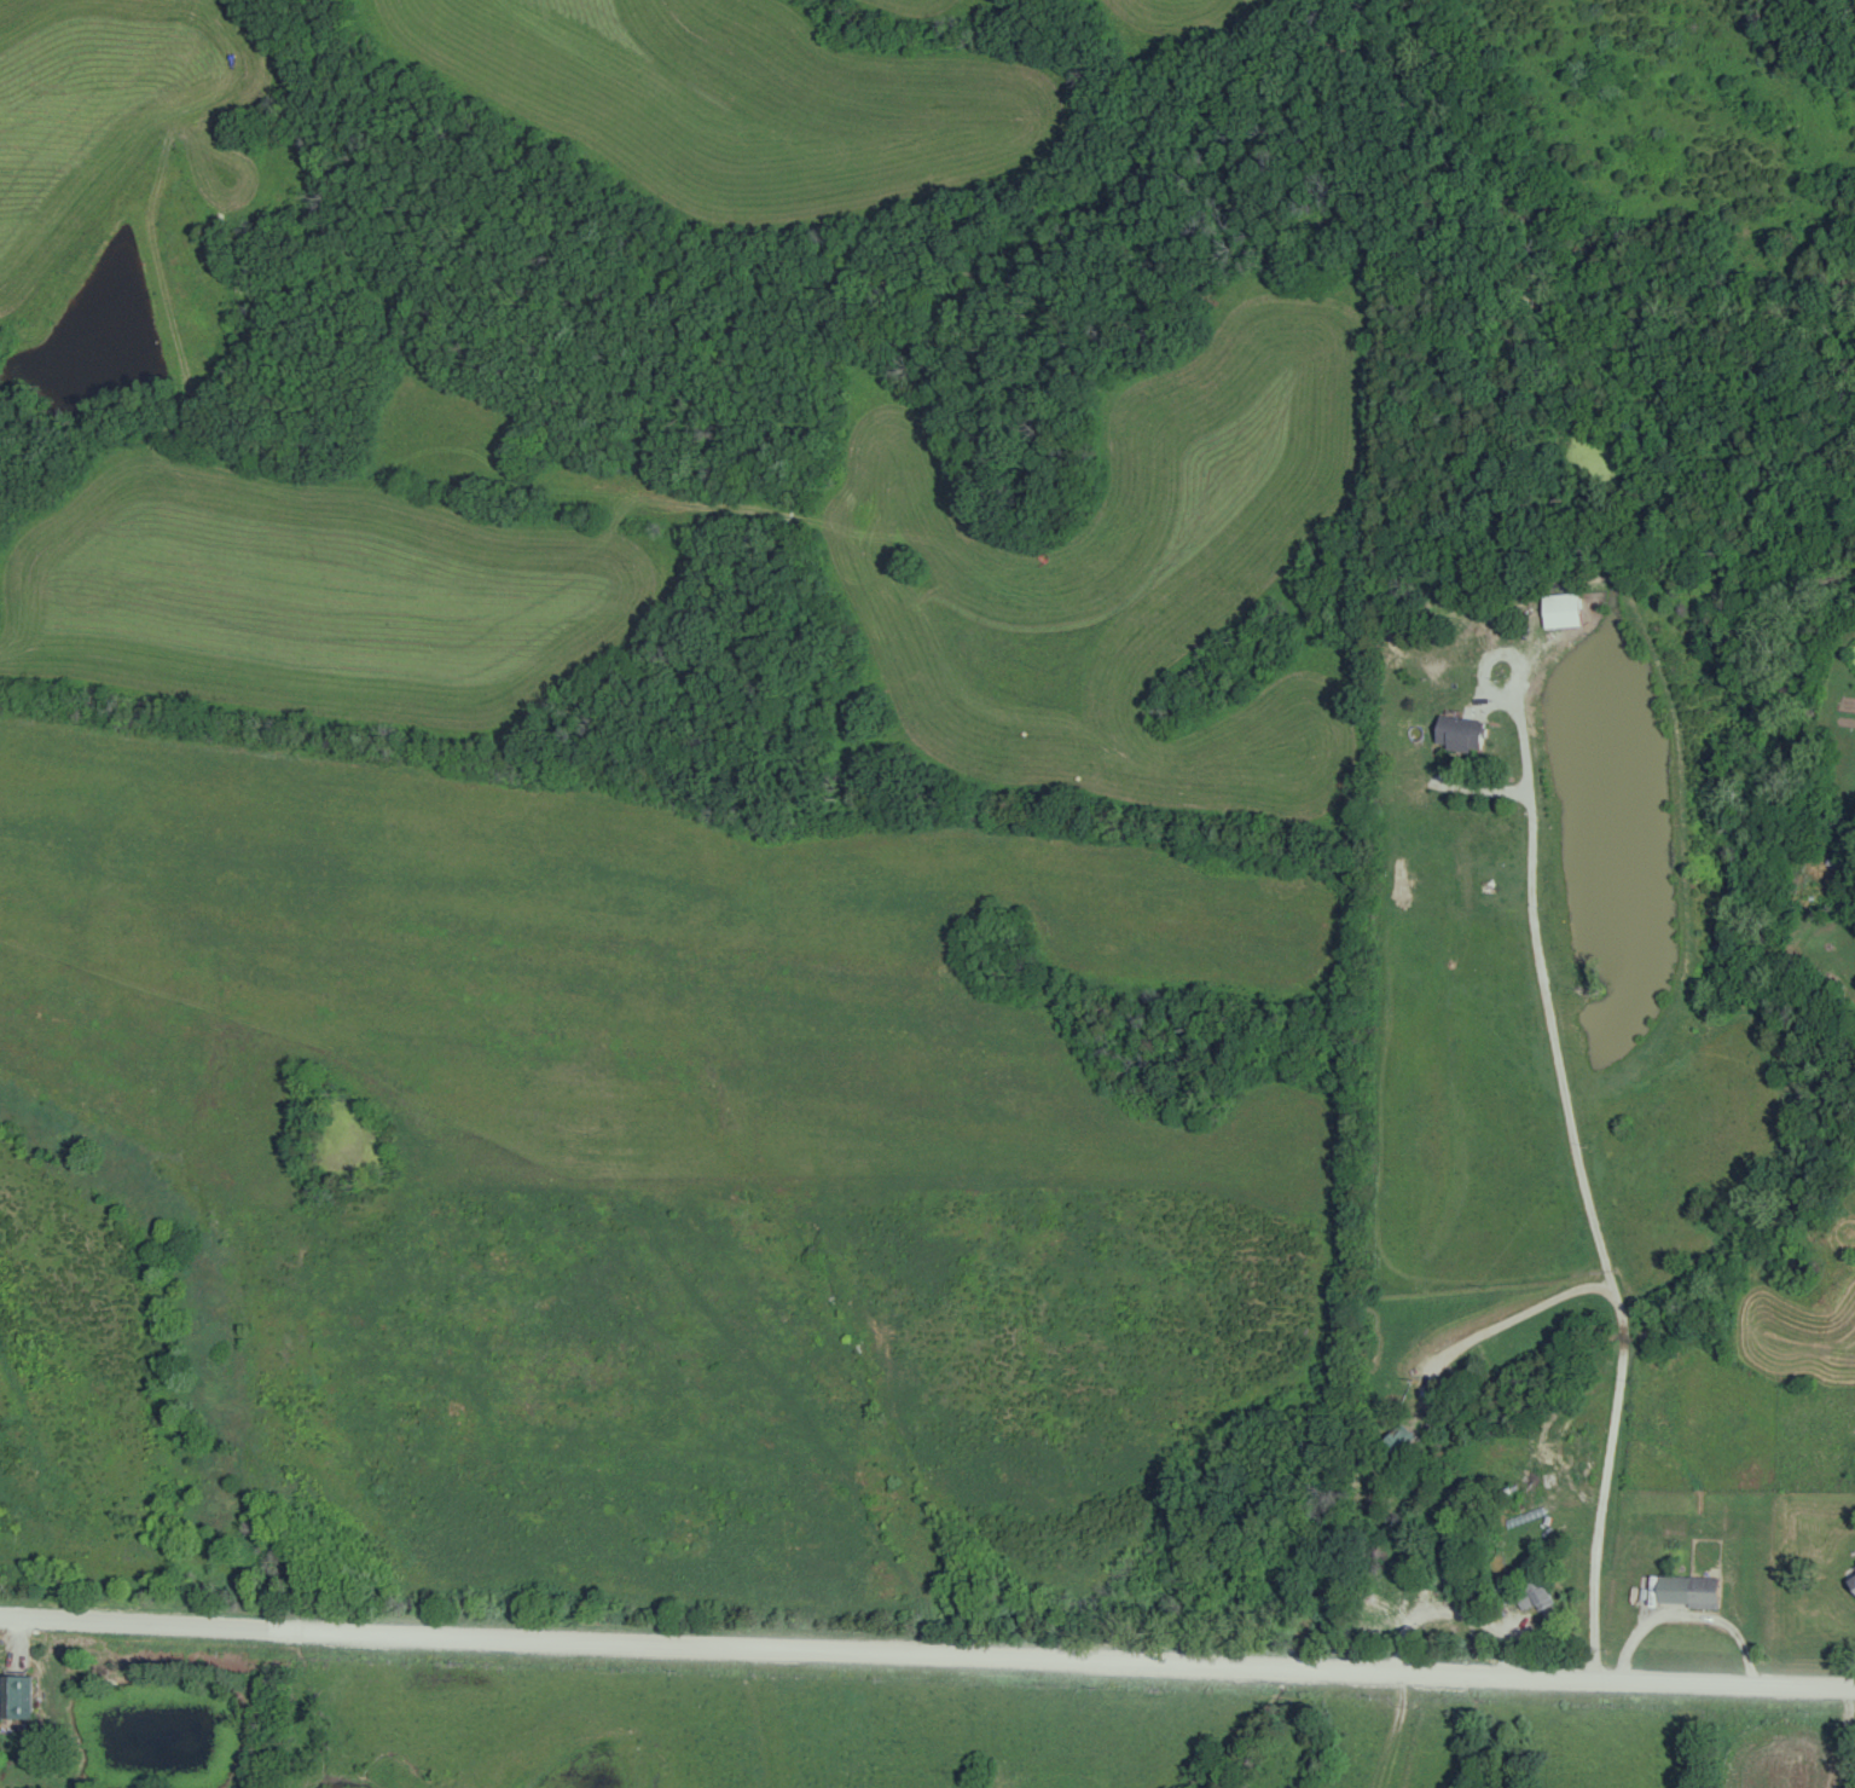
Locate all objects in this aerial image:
building: (1563, 611)
building: (1460, 734)
road: (1590, 1192)
building: (1401, 1443)
road: (1421, 1481)
building: (1564, 1521)
building: (1428, 1569)
building: (1853, 1584)
building: (1704, 1595)
building: (1532, 1596)
road: (1695, 1615)
road: (927, 1656)
building: (18, 1697)

